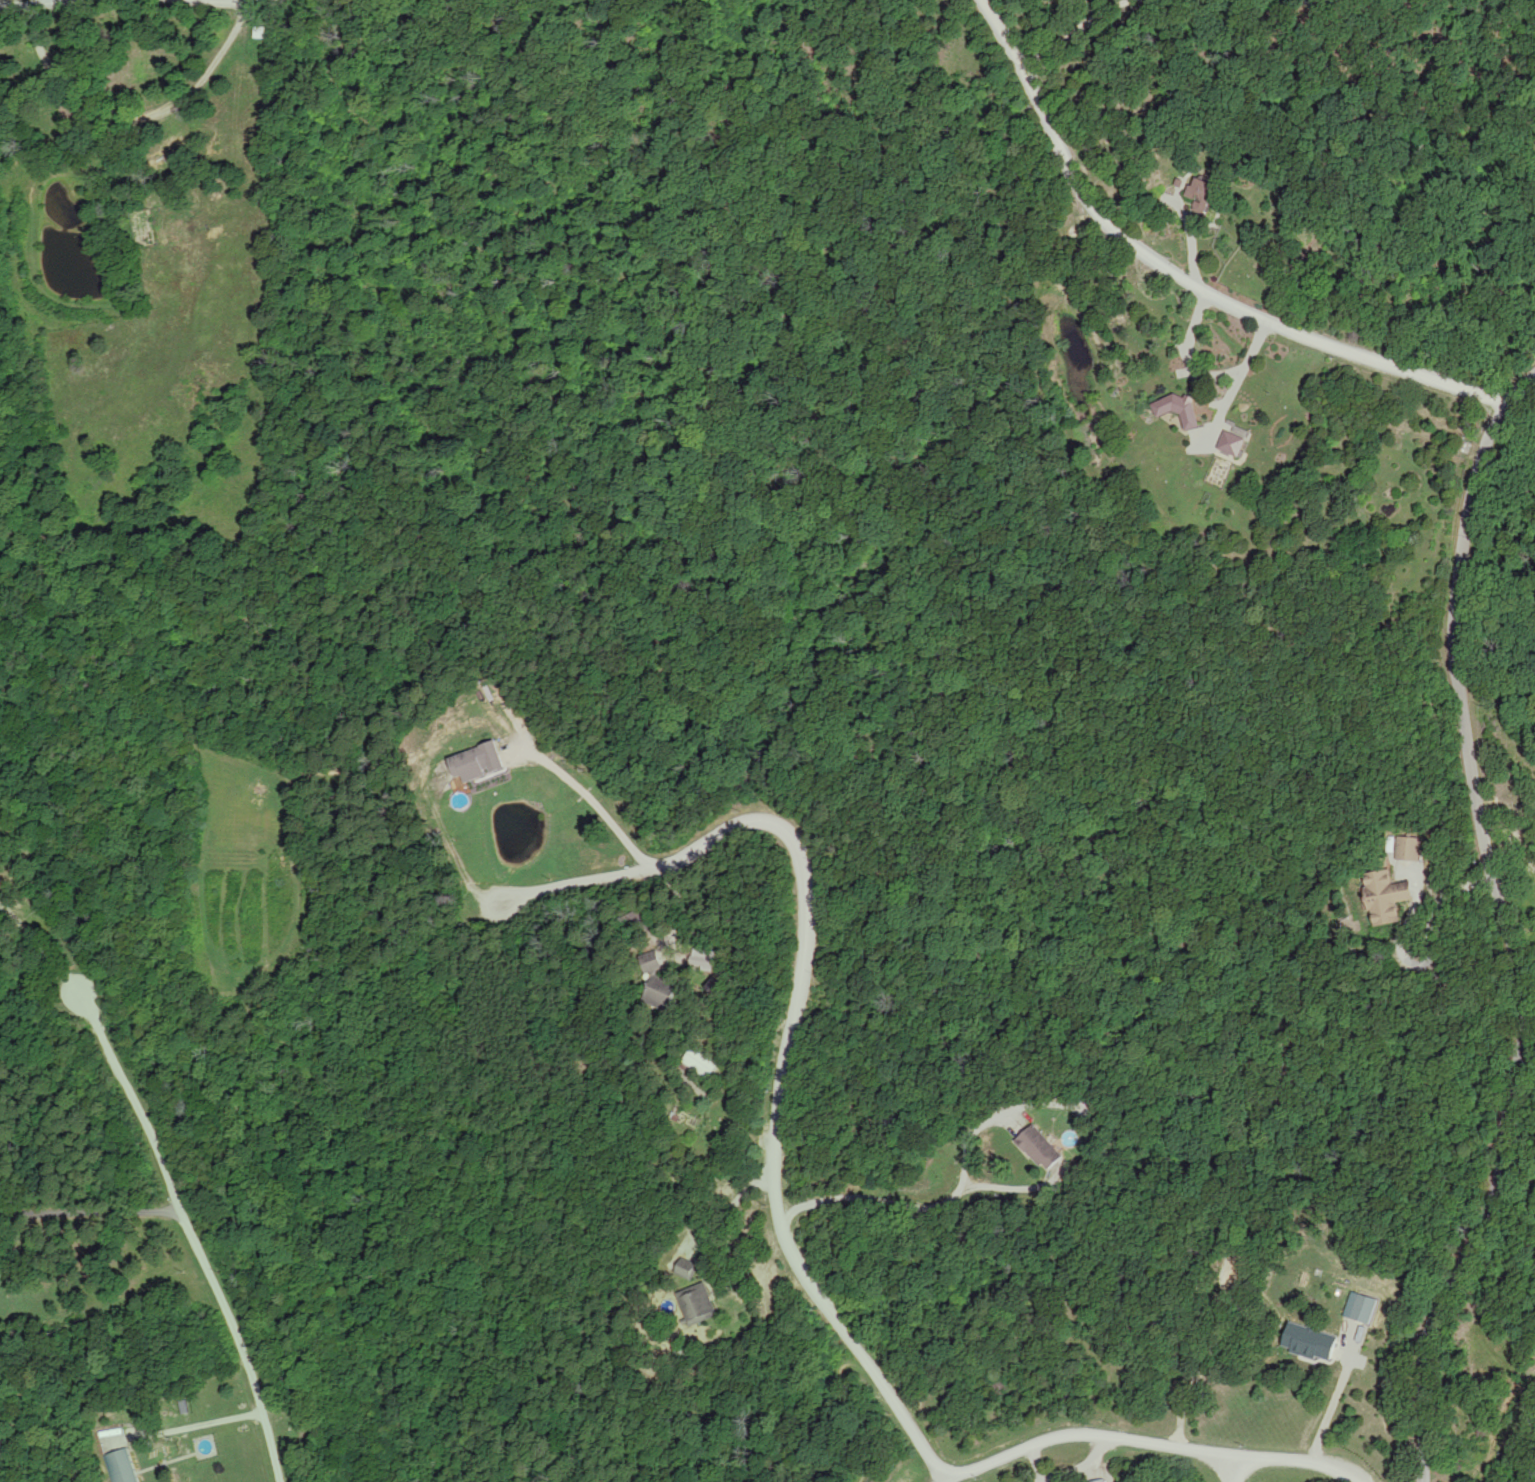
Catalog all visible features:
road: (1109, 38)
building: (1207, 199)
road: (1183, 254)
building: (1180, 409)
building: (1233, 444)
building: (479, 764)
road: (591, 809)
building: (1409, 848)
building: (1389, 896)
road: (1493, 904)
building: (654, 961)
building: (663, 993)
building: (703, 1061)
building: (1043, 1148)
road: (87, 1209)
road: (186, 1234)
road: (788, 1239)
building: (688, 1268)
building: (699, 1304)
building: (1362, 1307)
building: (1313, 1341)
building: (121, 1467)
road: (1231, 1470)
building: (1103, 1480)

